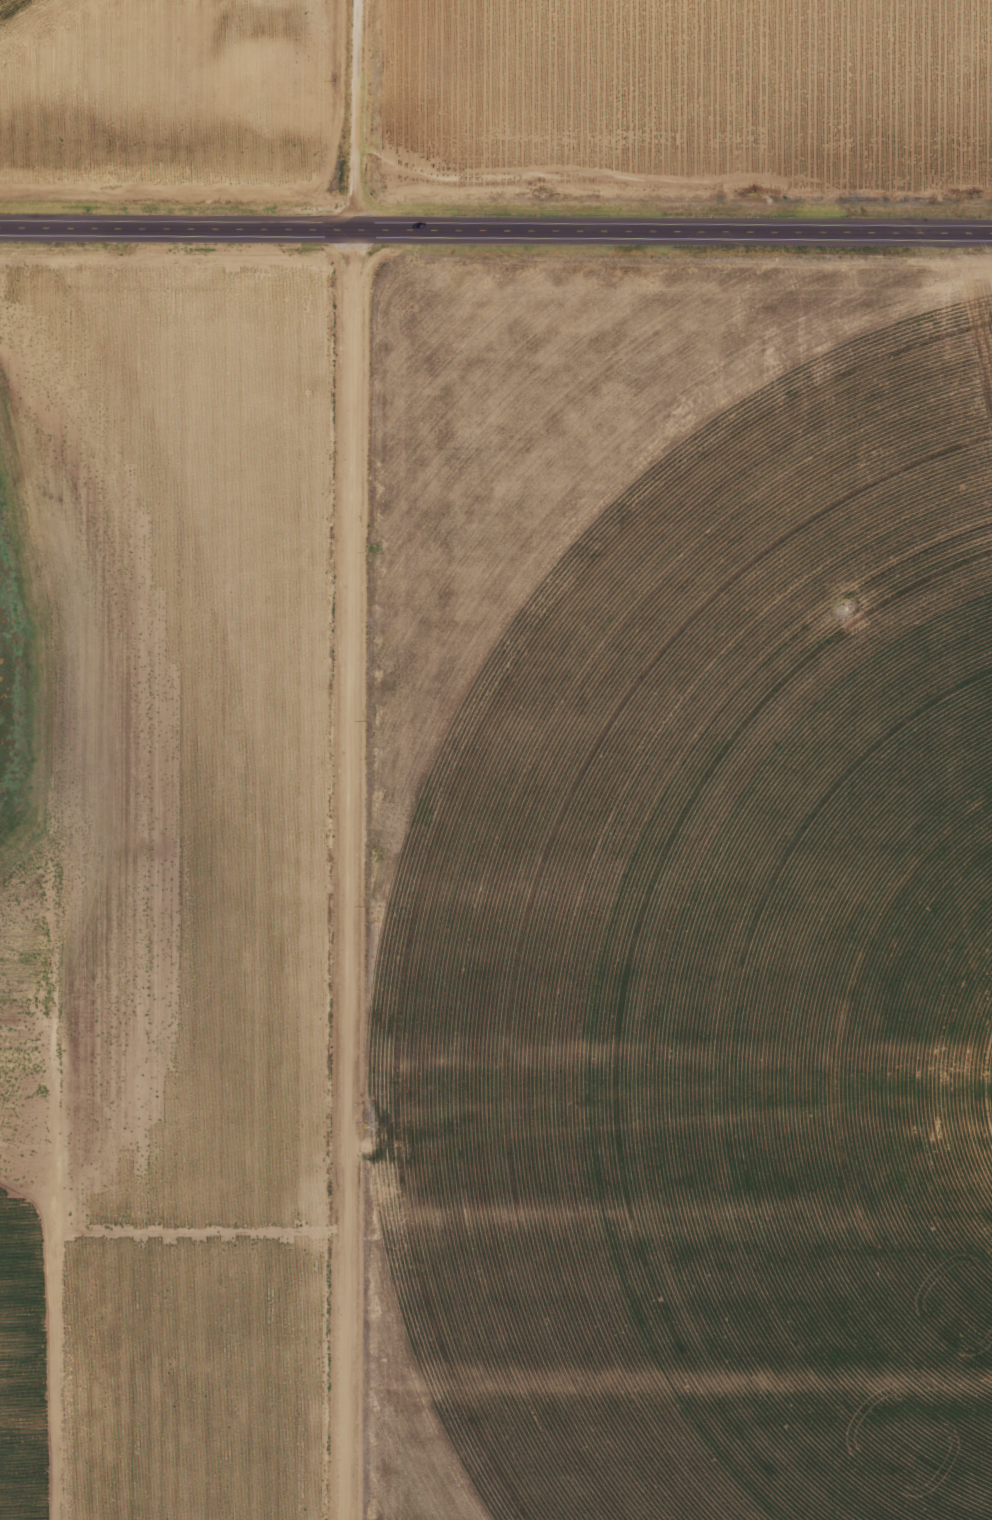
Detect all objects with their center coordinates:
road: (496, 244)
road: (352, 760)

